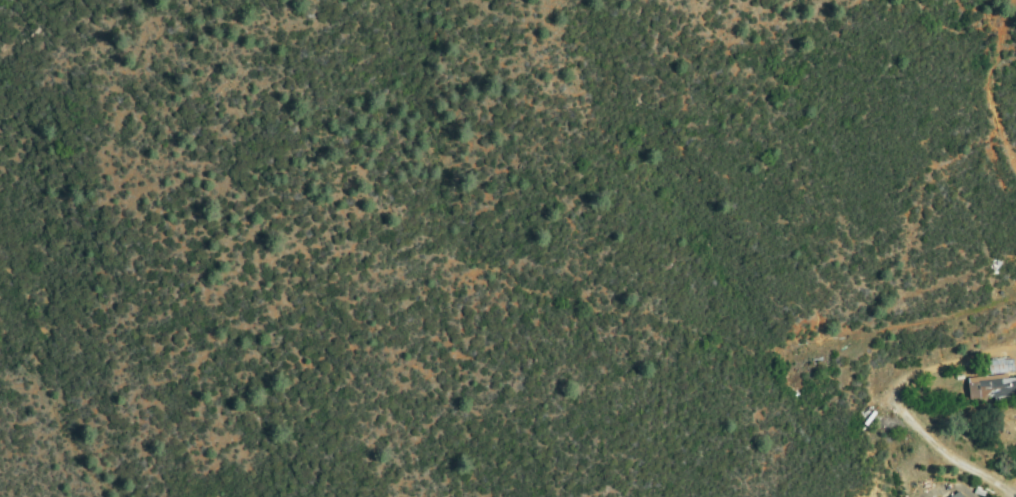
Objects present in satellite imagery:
building: (997, 367)
building: (992, 388)
building: (958, 496)

